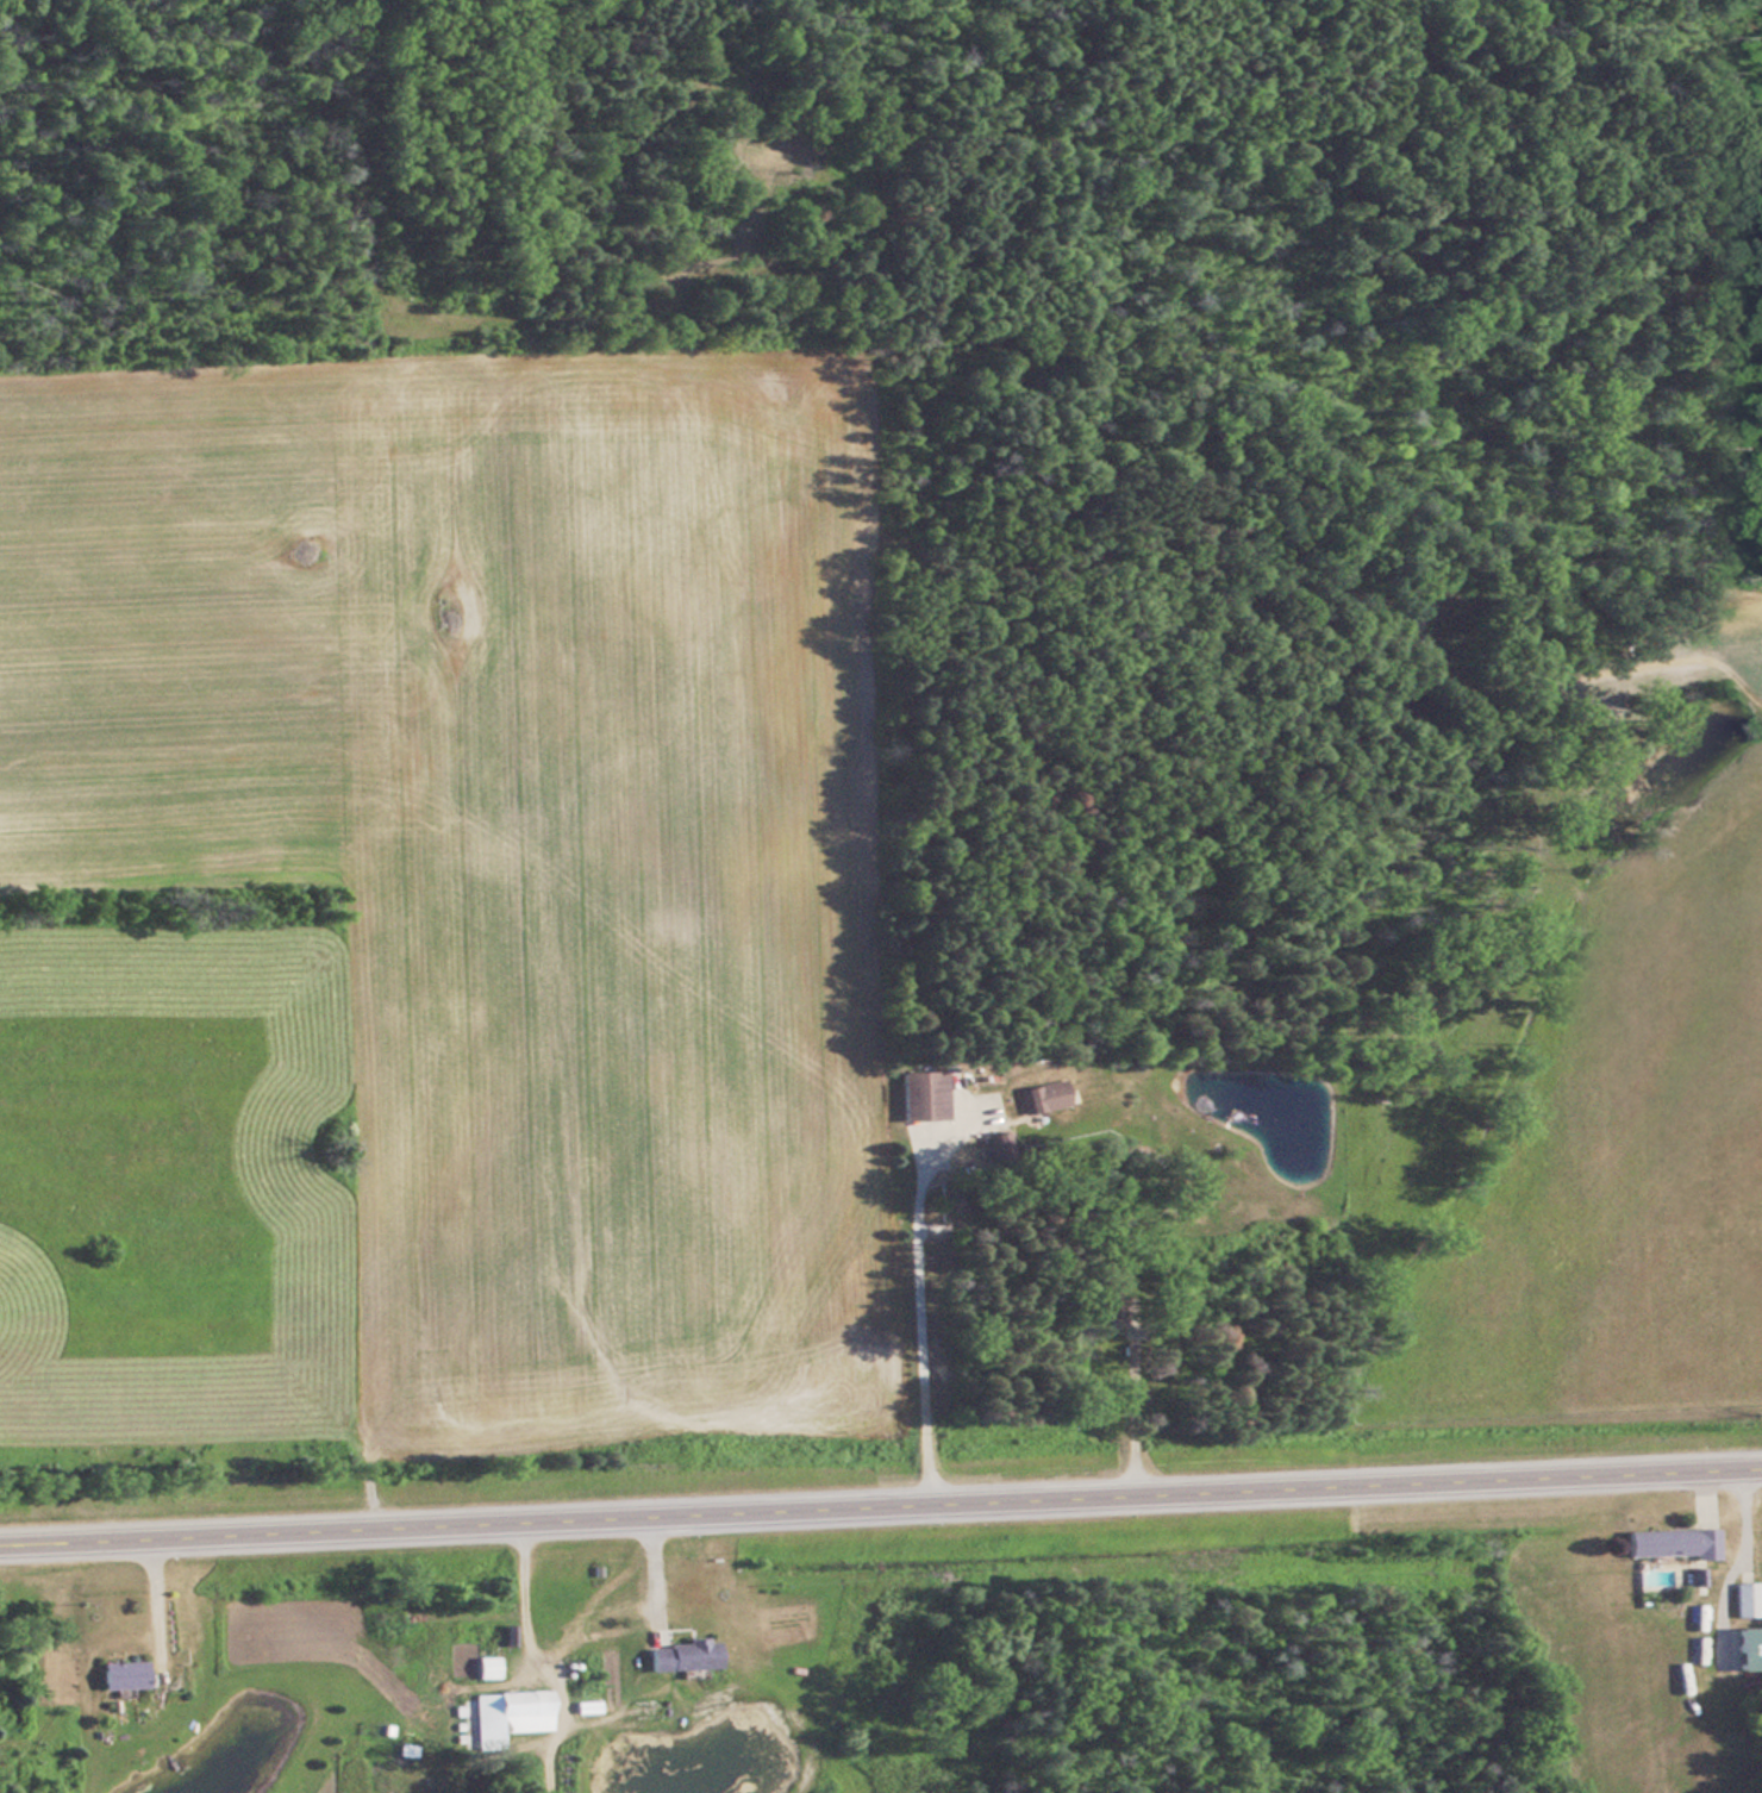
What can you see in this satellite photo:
building: (921, 1095)
building: (1041, 1097)
building: (1110, 1304)
road: (914, 1332)
road: (881, 1510)
building: (1669, 1542)
building: (1742, 1598)
road: (521, 1622)
building: (680, 1654)
building: (486, 1667)
building: (120, 1674)
building: (508, 1714)

